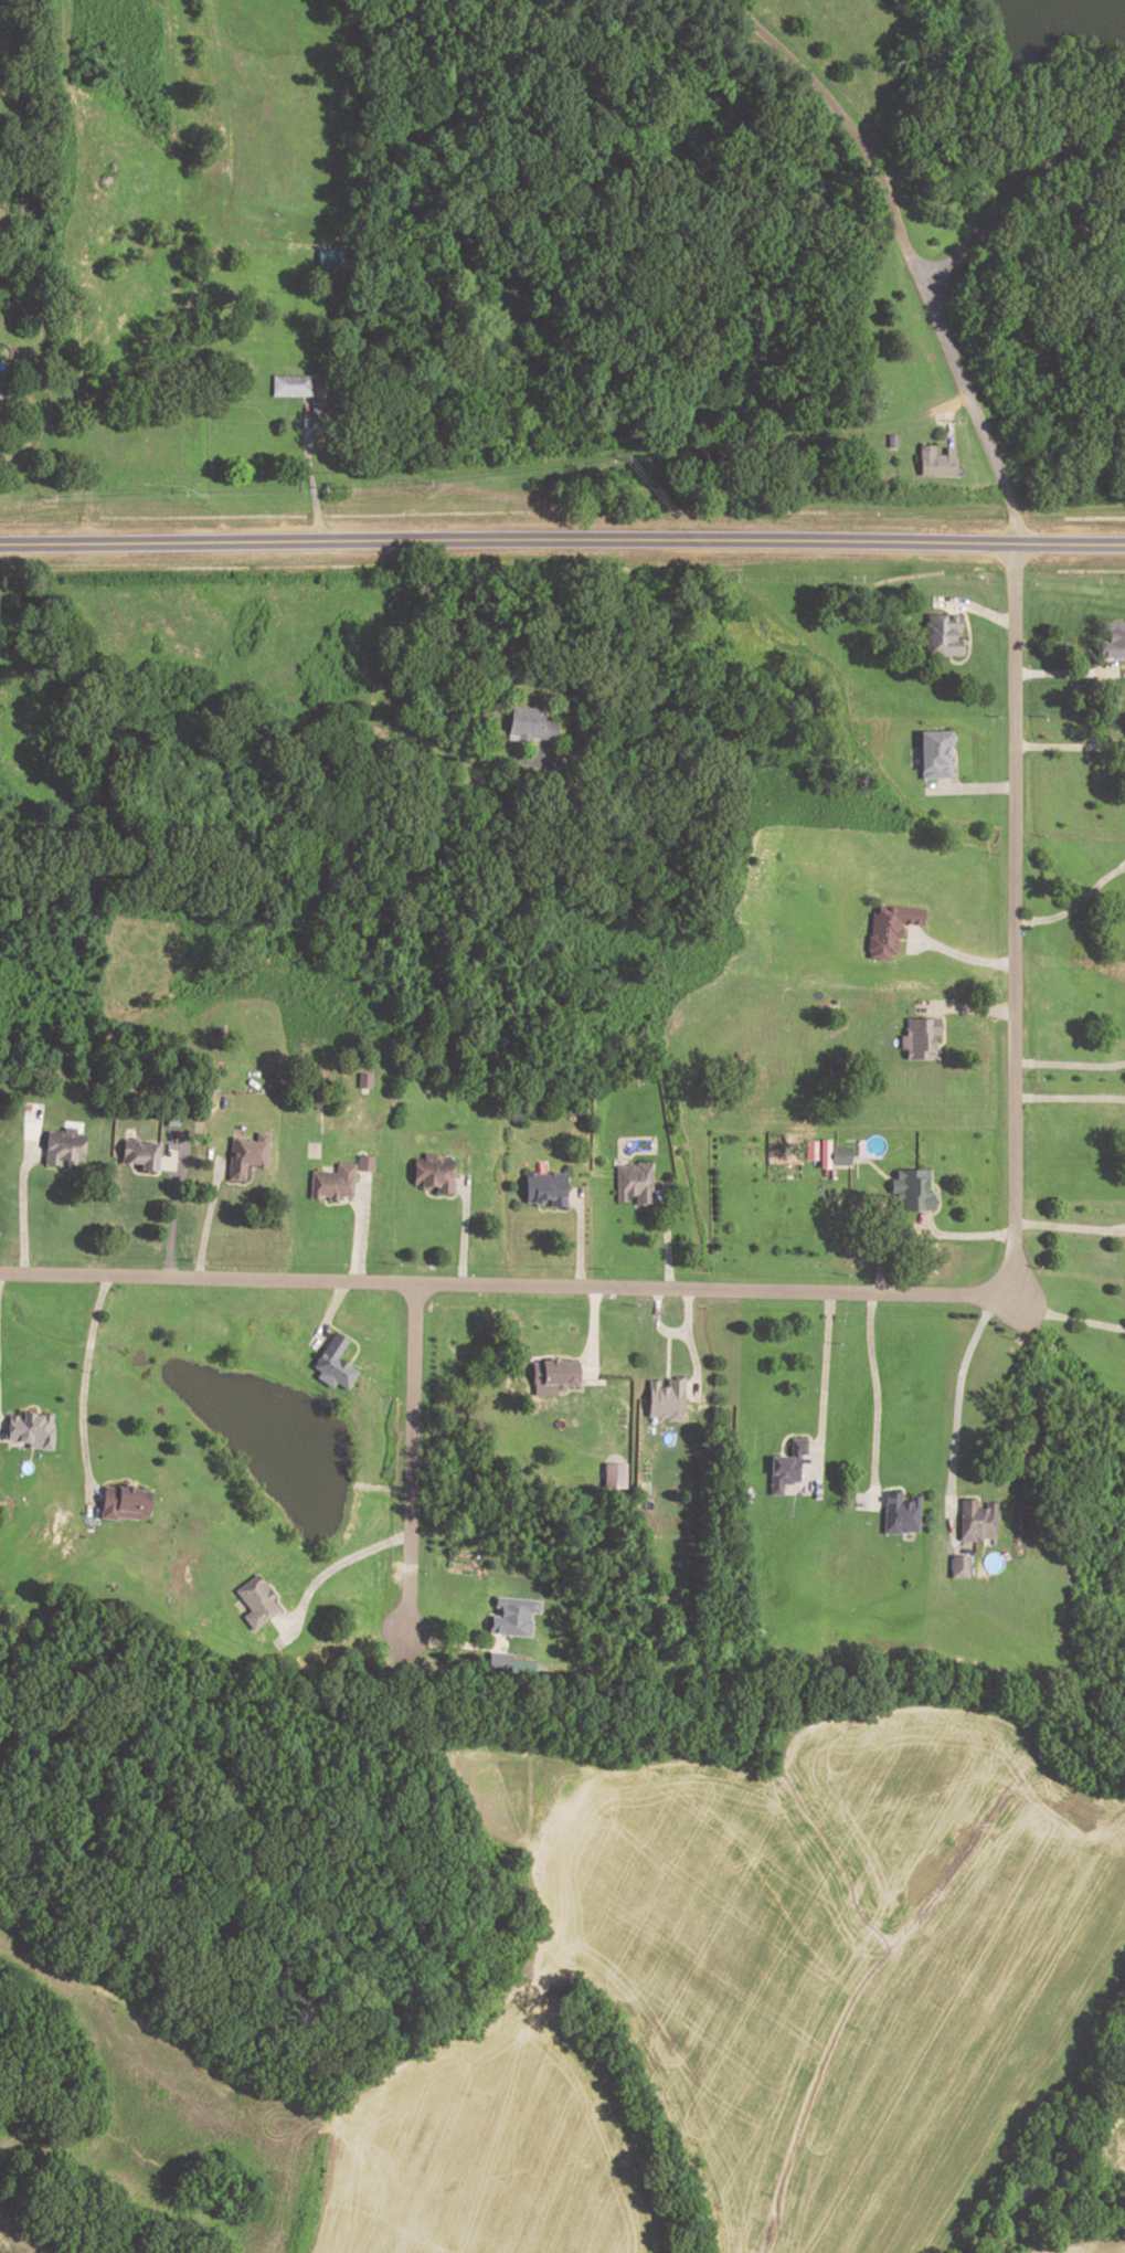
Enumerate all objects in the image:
road: (1013, 192)
road: (904, 248)
building: (330, 257)
road: (67, 271)
building: (289, 387)
building: (0, 402)
road: (947, 414)
building: (890, 441)
building: (933, 462)
road: (307, 473)
road: (562, 540)
road: (974, 607)
building: (940, 635)
road: (967, 641)
building: (1113, 641)
road: (1093, 649)
road: (1062, 674)
road: (468, 701)
building: (528, 724)
road: (1069, 747)
building: (934, 753)
road: (969, 787)
road: (1073, 905)
road: (1013, 912)
building: (889, 929)
road: (961, 956)
road: (965, 1009)
building: (919, 1036)
road: (1069, 1065)
road: (1069, 1098)
building: (62, 1145)
building: (138, 1153)
building: (245, 1154)
building: (837, 1155)
building: (432, 1172)
road: (147, 1174)
building: (330, 1182)
building: (633, 1182)
road: (237, 1184)
building: (542, 1186)
building: (911, 1189)
road: (439, 1195)
road: (340, 1203)
road: (20, 1209)
road: (554, 1209)
road: (170, 1214)
road: (205, 1219)
road: (920, 1224)
road: (1068, 1227)
road: (360, 1229)
road: (460, 1229)
road: (925, 1235)
road: (665, 1237)
road: (576, 1239)
road: (500, 1283)
road: (328, 1312)
road: (1054, 1315)
road: (655, 1322)
road: (592, 1331)
road: (349, 1339)
road: (688, 1342)
road: (665, 1360)
building: (331, 1363)
road: (822, 1371)
building: (555, 1372)
road: (79, 1392)
road: (875, 1398)
building: (664, 1399)
road: (953, 1417)
building: (30, 1428)
road: (792, 1435)
road: (410, 1459)
building: (784, 1466)
building: (614, 1474)
building: (123, 1502)
building: (899, 1514)
building: (975, 1521)
road: (337, 1563)
building: (957, 1566)
building: (254, 1601)
building: (511, 1616)
road: (449, 1644)
building: (498, 1662)
crop: (1111, 2141)

